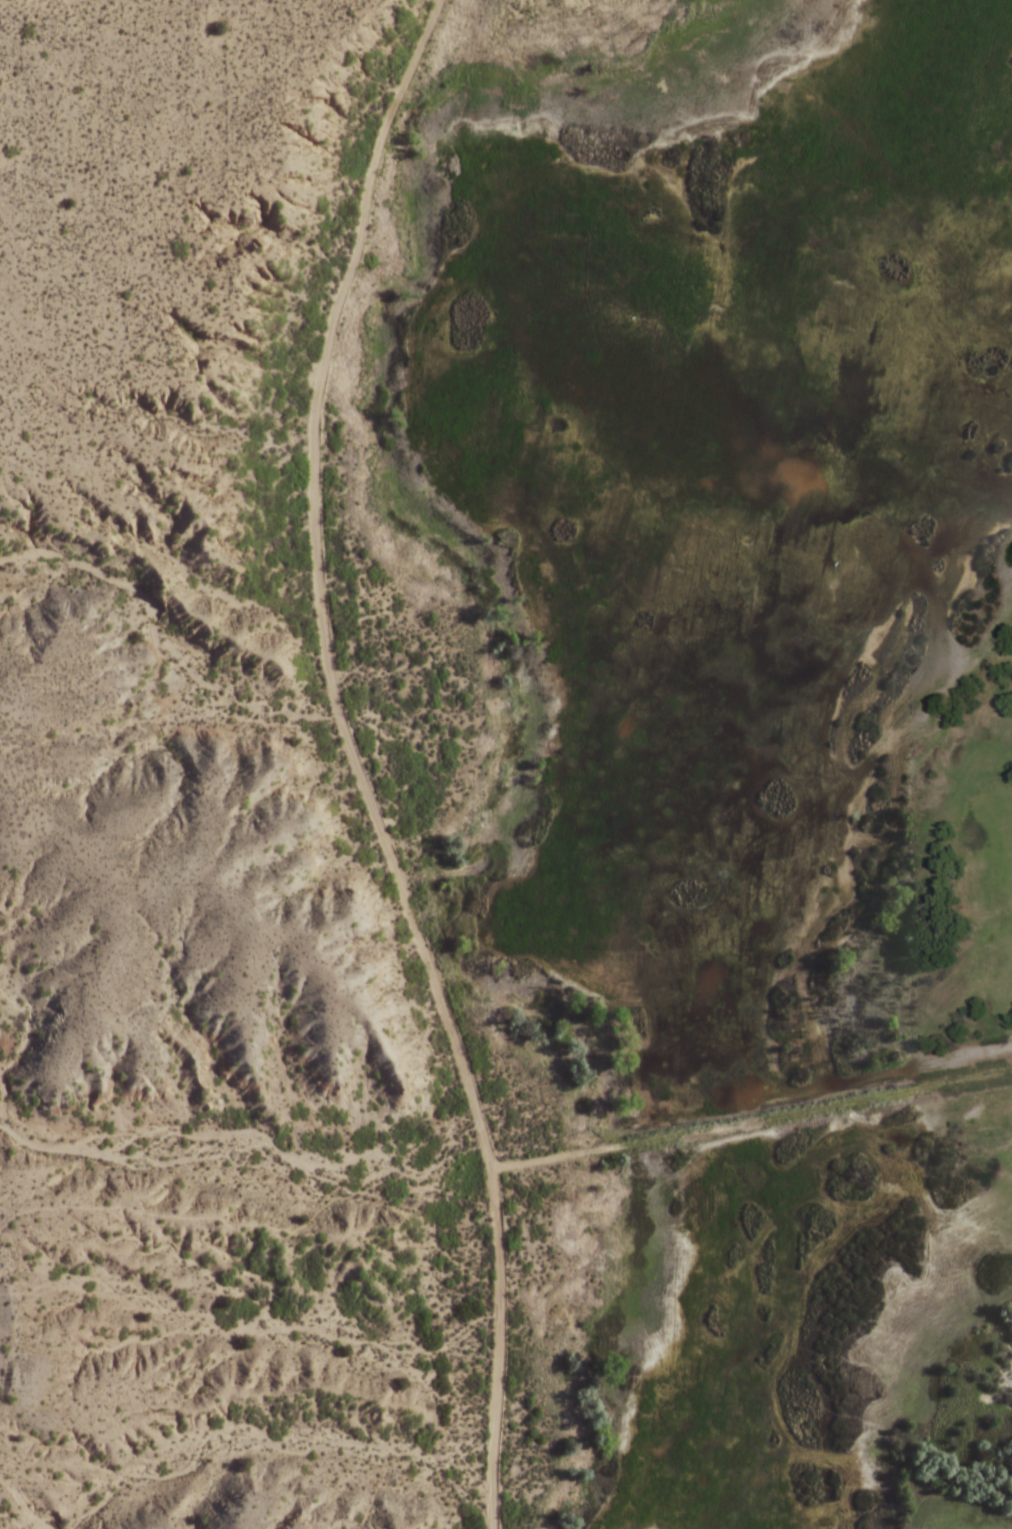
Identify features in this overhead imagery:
road: (354, 763)
road: (837, 1102)
road: (577, 1152)
road: (2, 1363)

